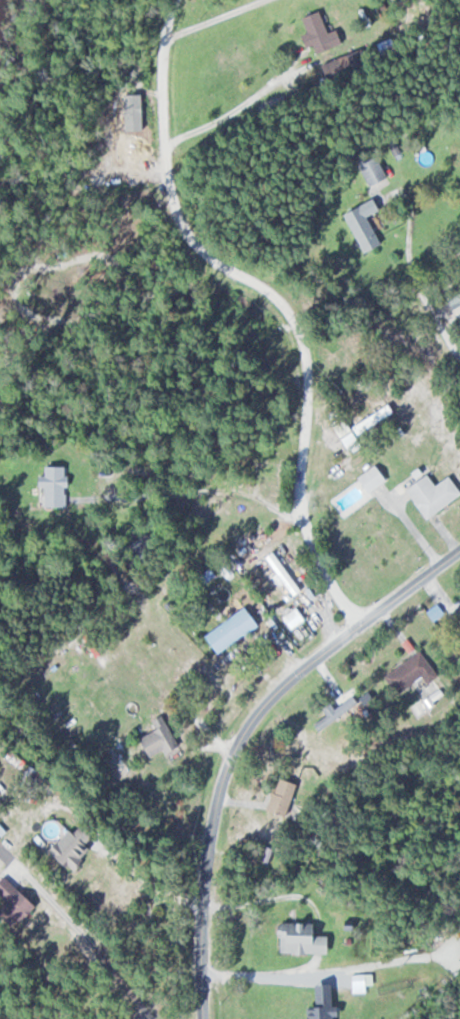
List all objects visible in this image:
building: (313, 32)
building: (370, 170)
building: (359, 228)
road: (276, 296)
building: (368, 478)
building: (49, 486)
building: (430, 494)
building: (280, 574)
building: (227, 631)
building: (408, 673)
road: (240, 734)
building: (155, 741)
building: (278, 797)
building: (1, 830)
building: (69, 847)
building: (11, 902)
building: (298, 937)
building: (326, 1006)

